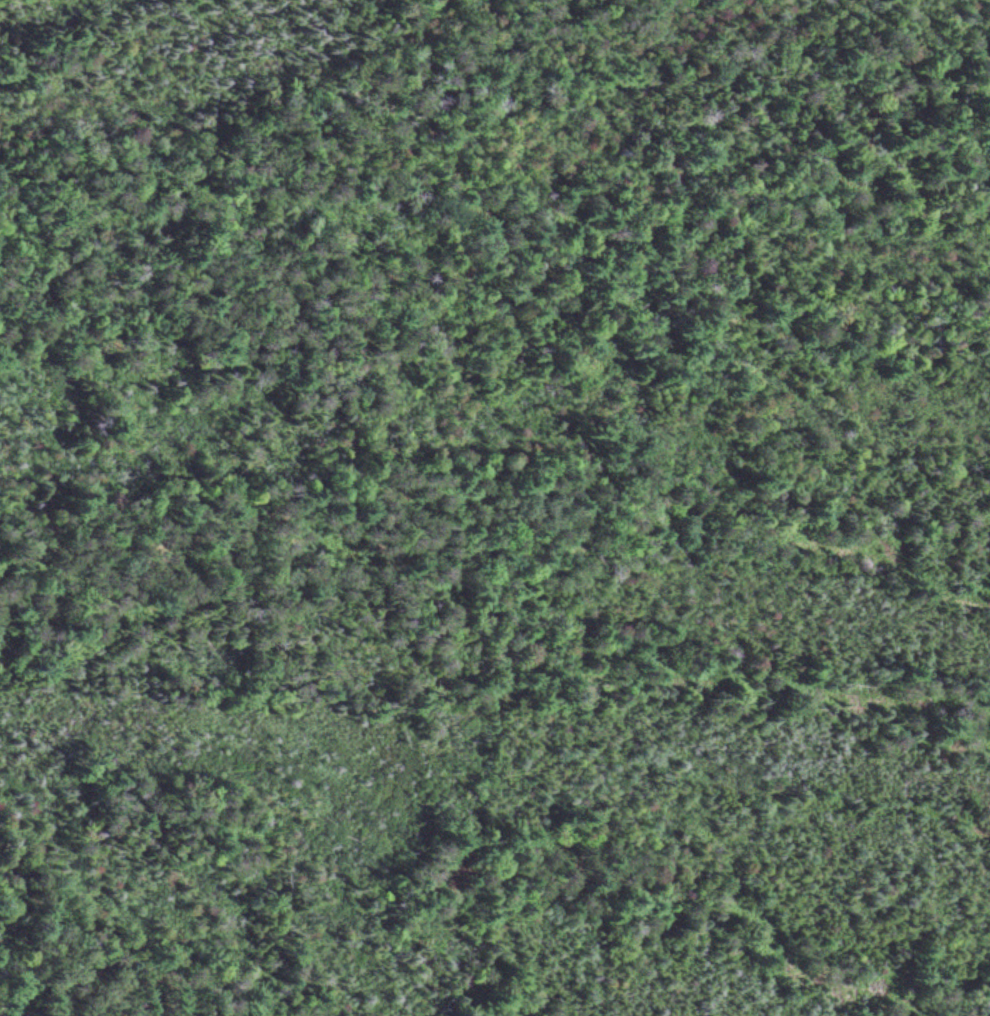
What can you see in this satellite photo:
road: (547, 567)

